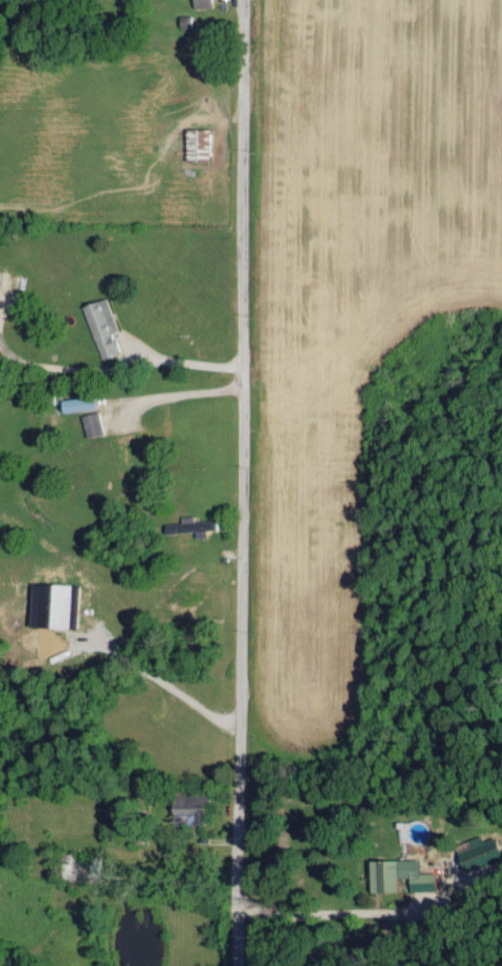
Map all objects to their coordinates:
building: (204, 3)
building: (202, 143)
building: (0, 282)
building: (104, 328)
building: (85, 404)
building: (93, 424)
road: (240, 483)
building: (191, 526)
building: (58, 605)
building: (474, 852)
building: (395, 875)
road: (339, 911)

